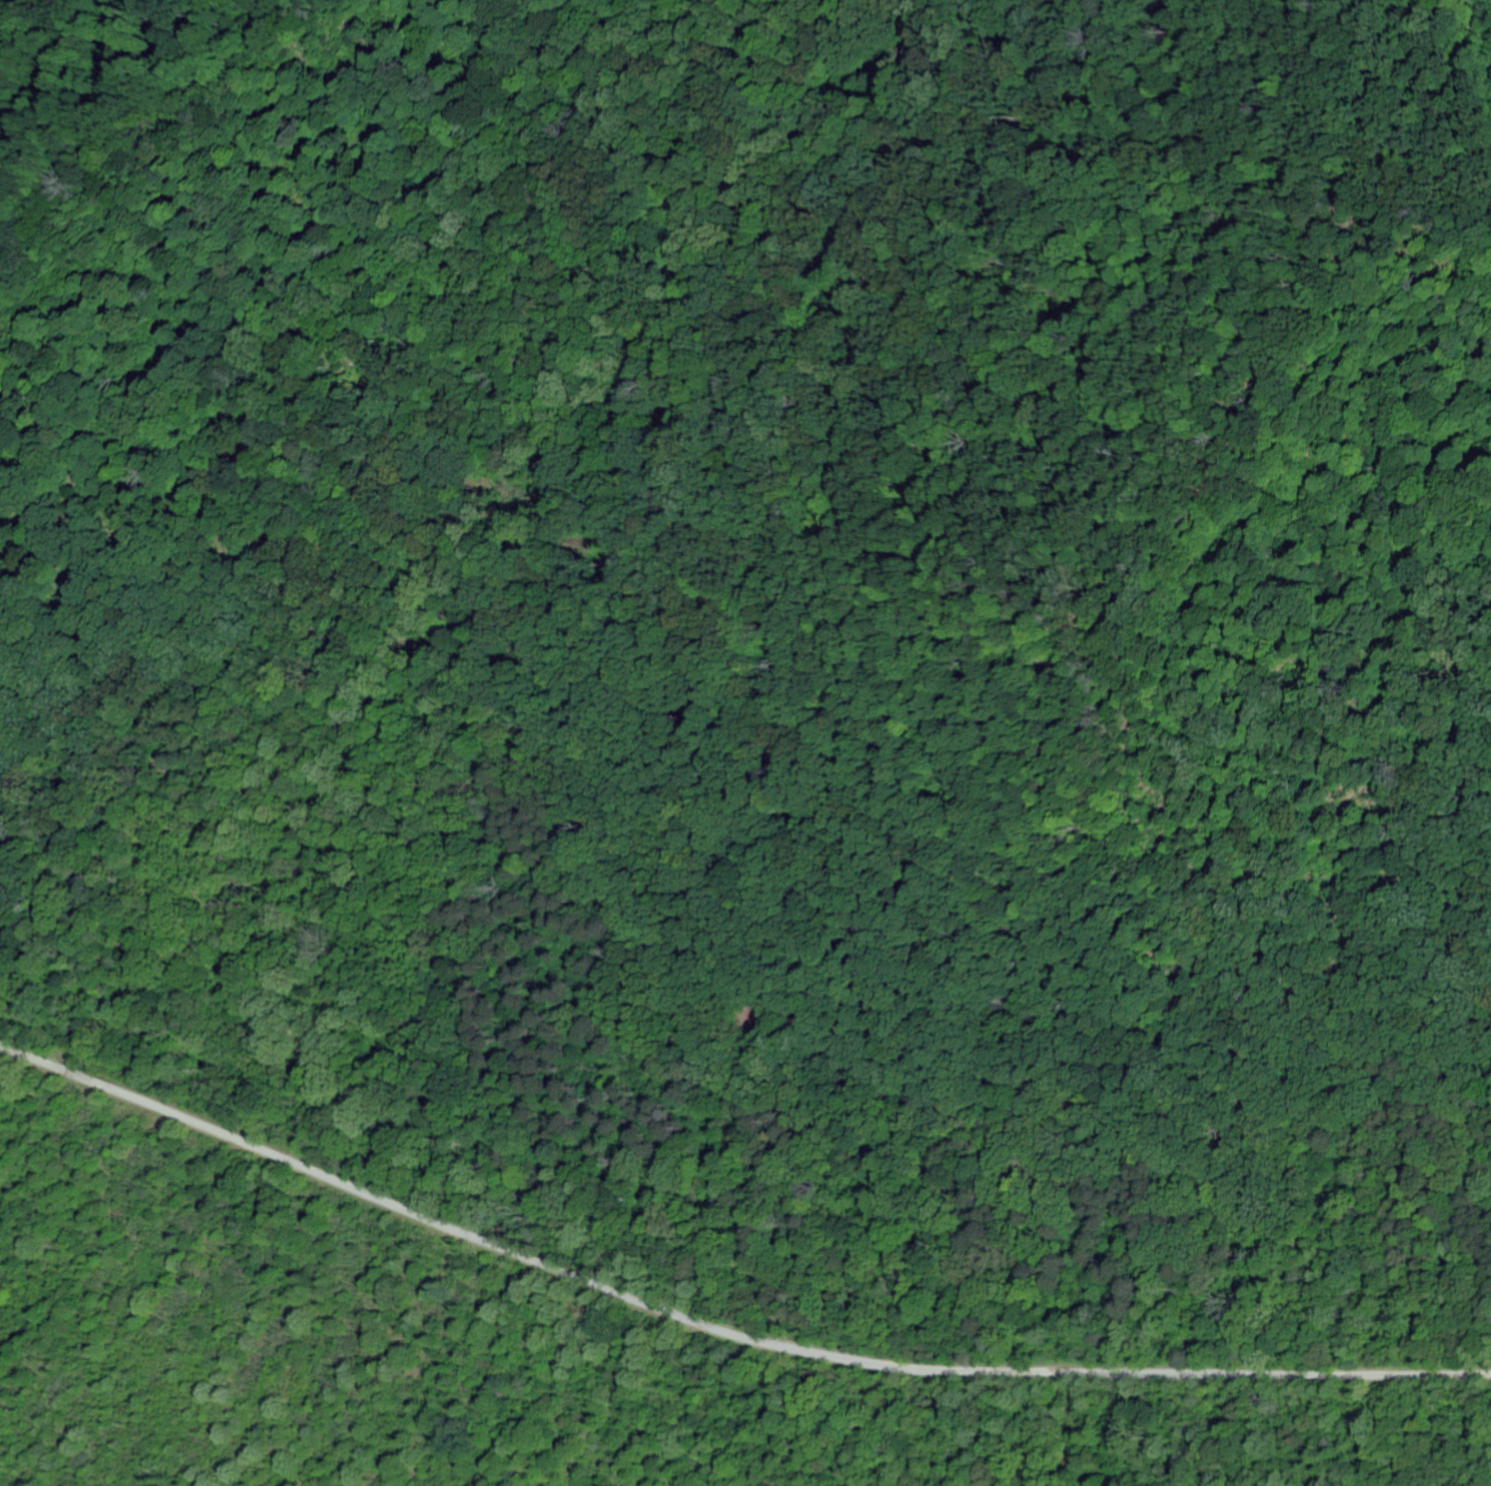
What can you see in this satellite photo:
road: (720, 1329)

